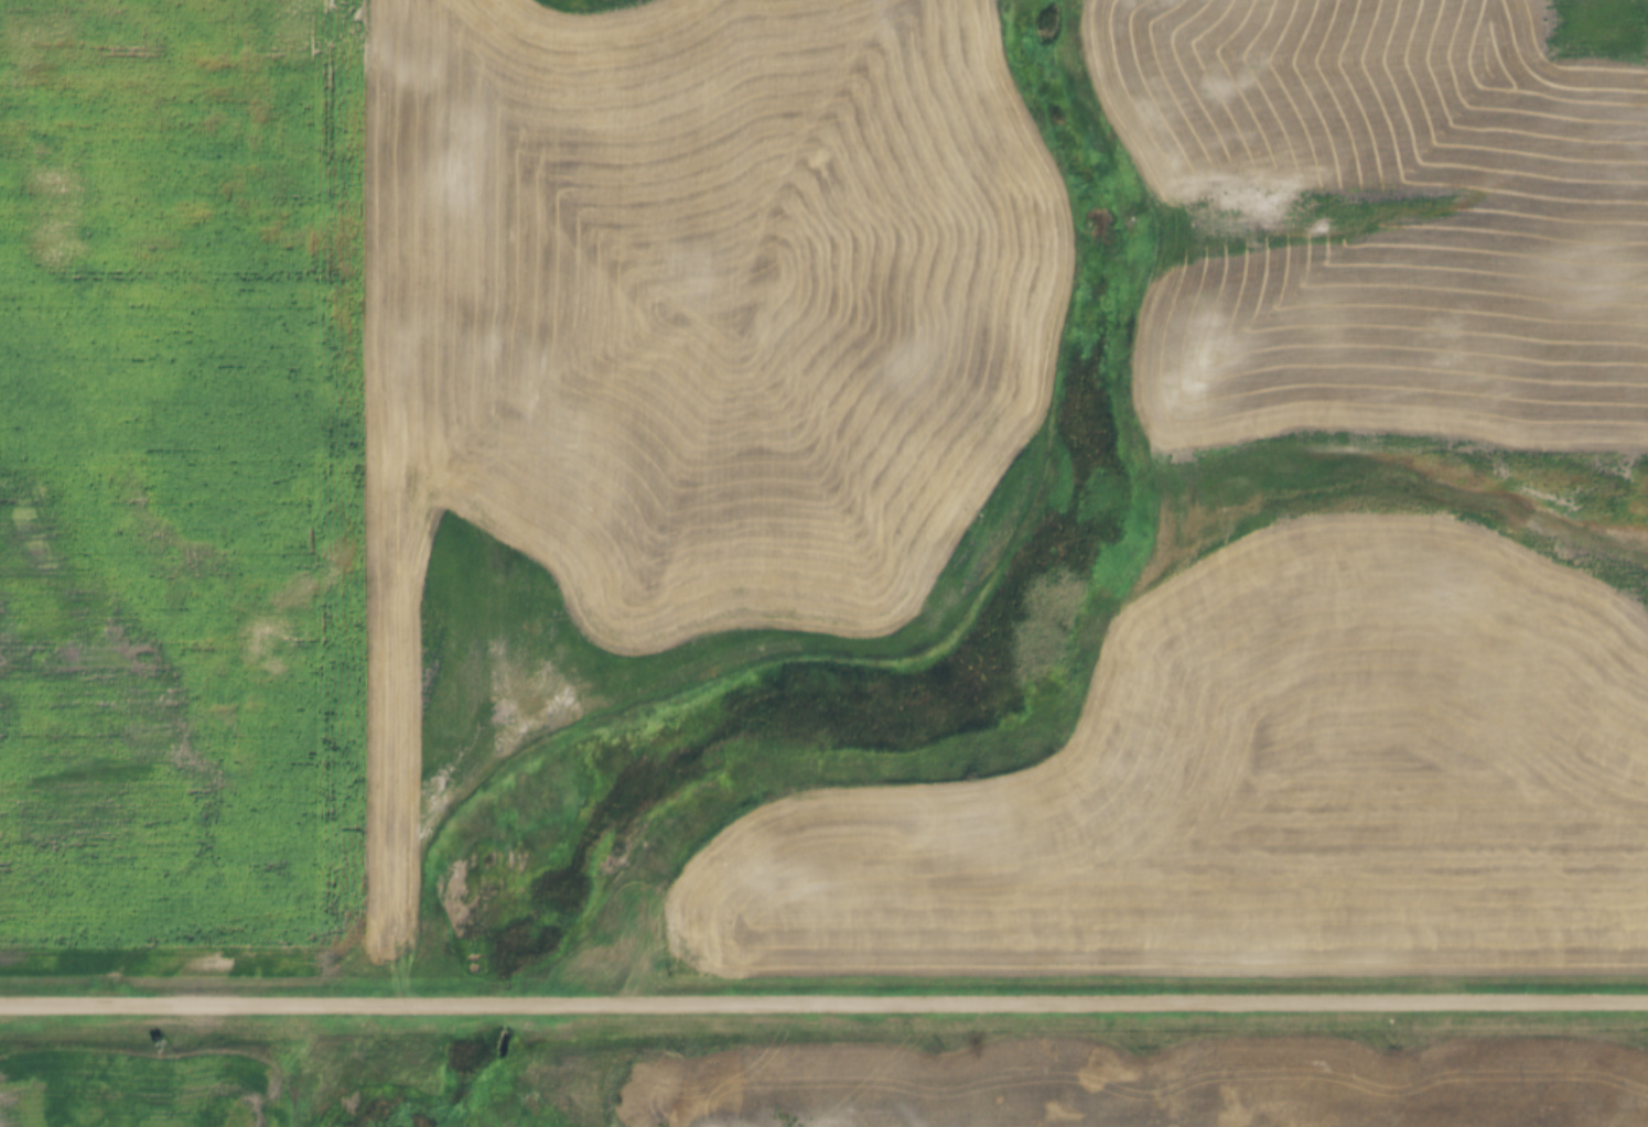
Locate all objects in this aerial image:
road: (823, 999)

